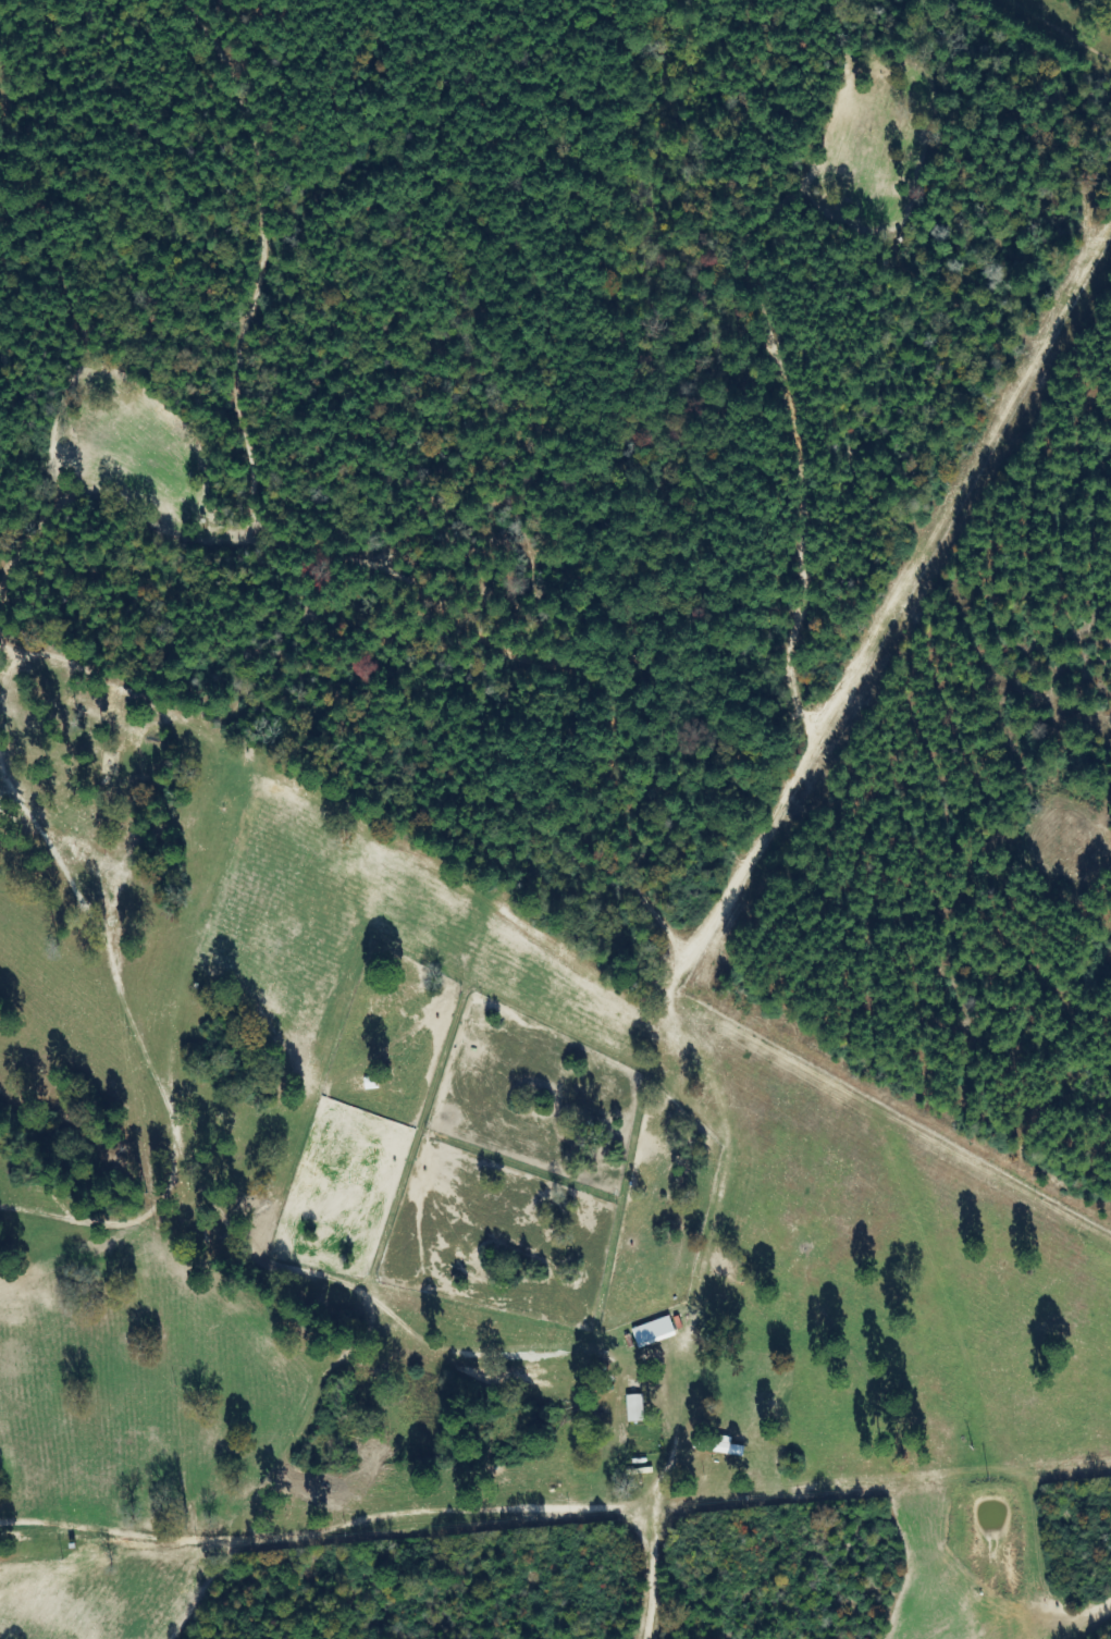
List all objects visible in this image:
building: (650, 1332)
building: (632, 1408)

